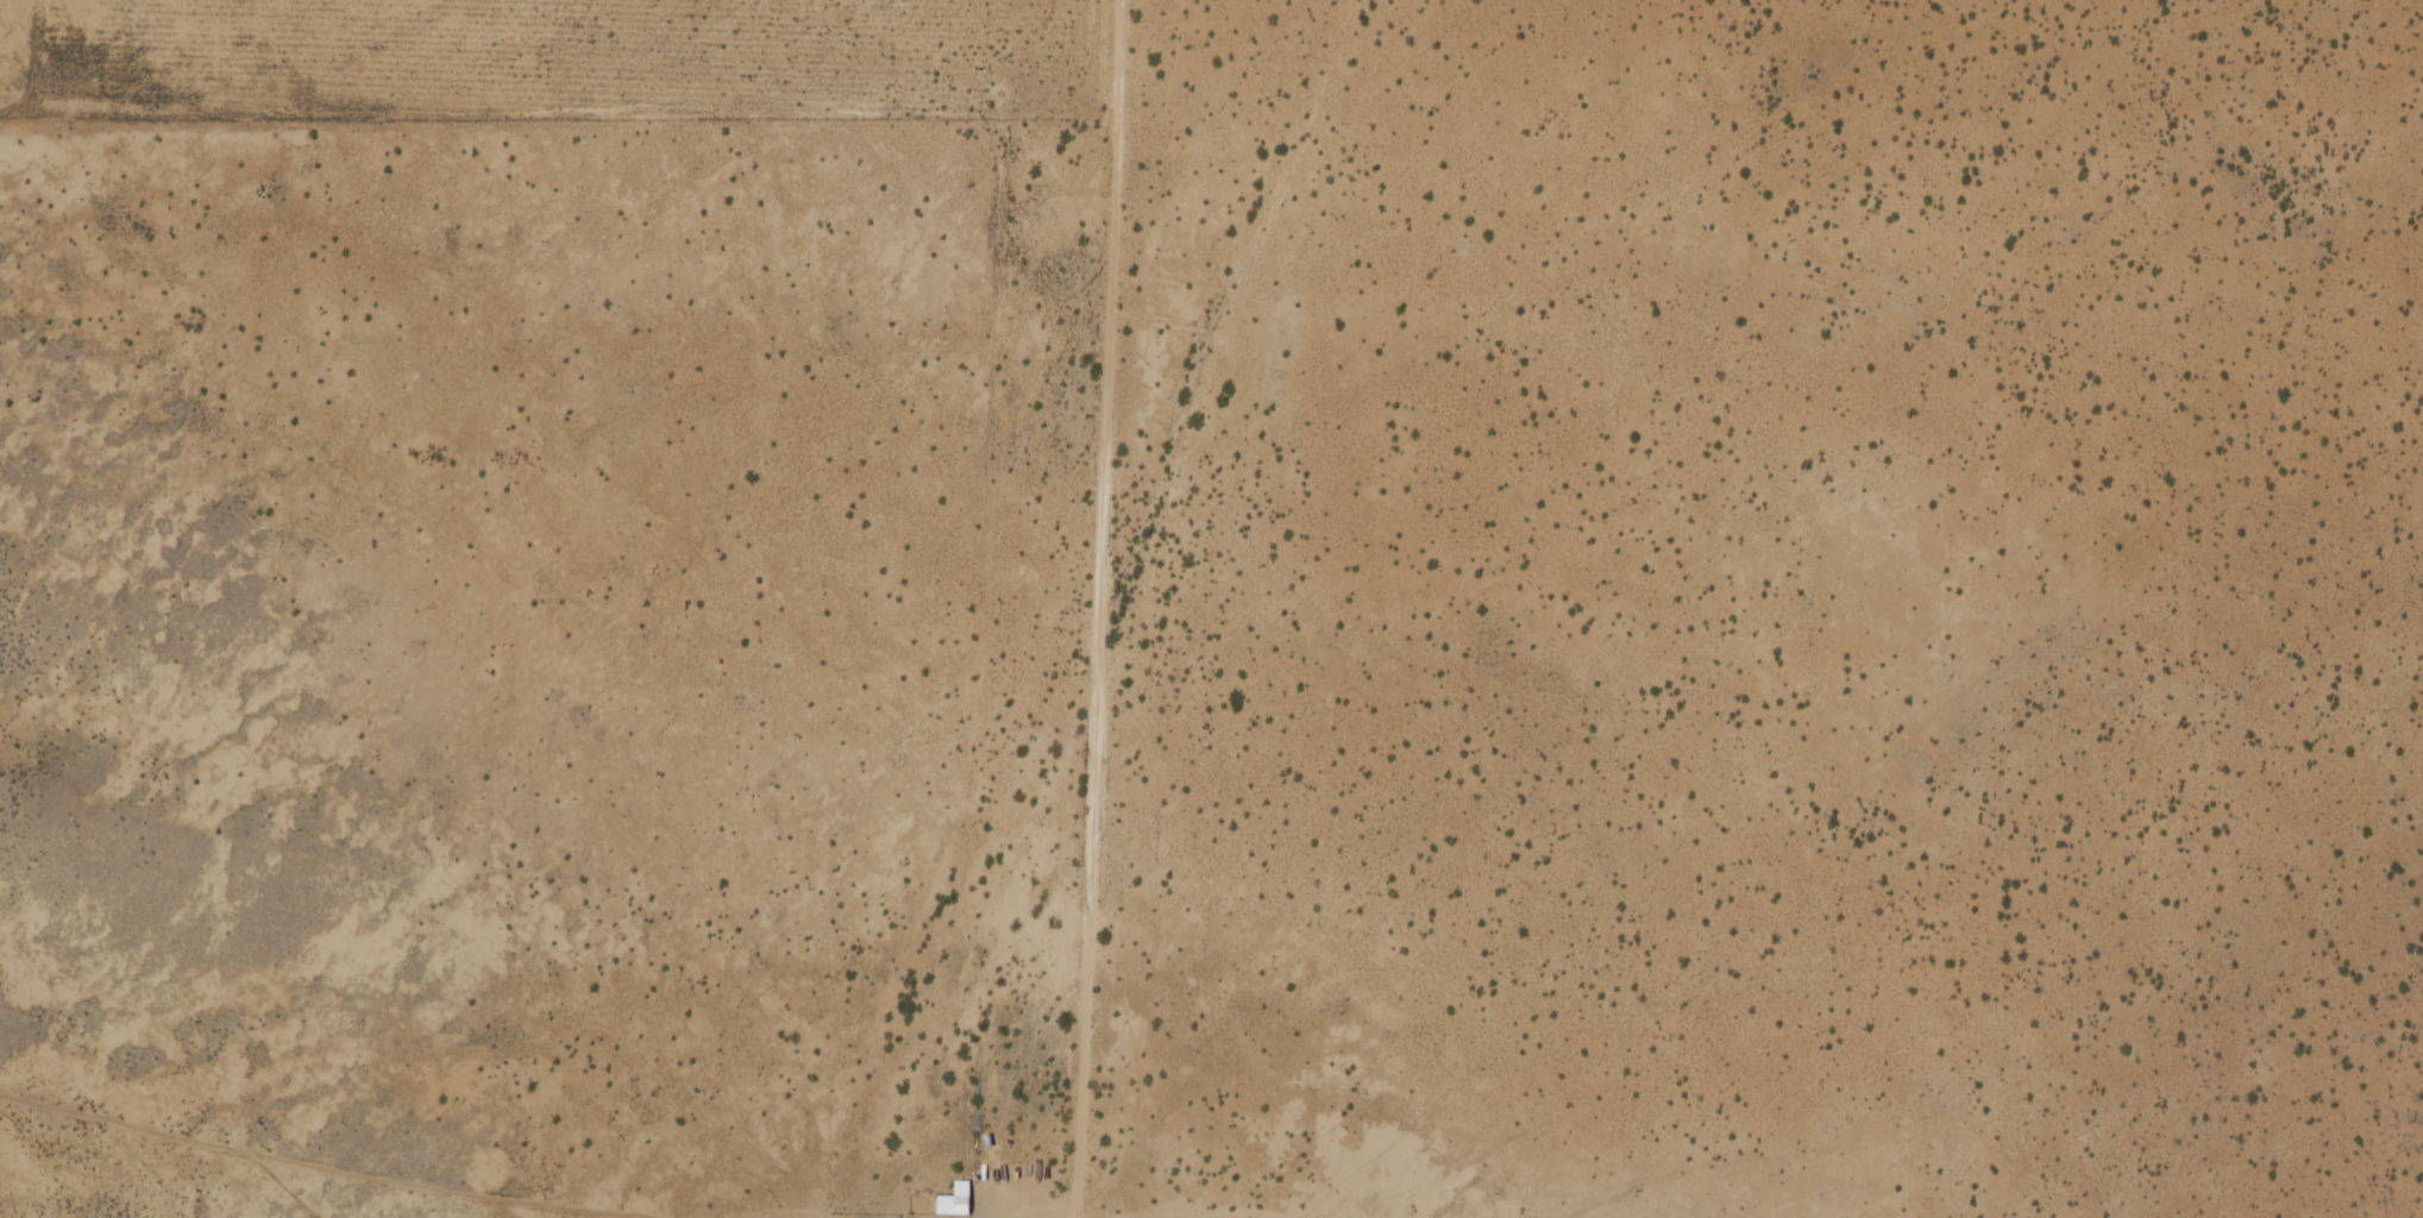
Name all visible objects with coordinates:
road: (2255, 197)

